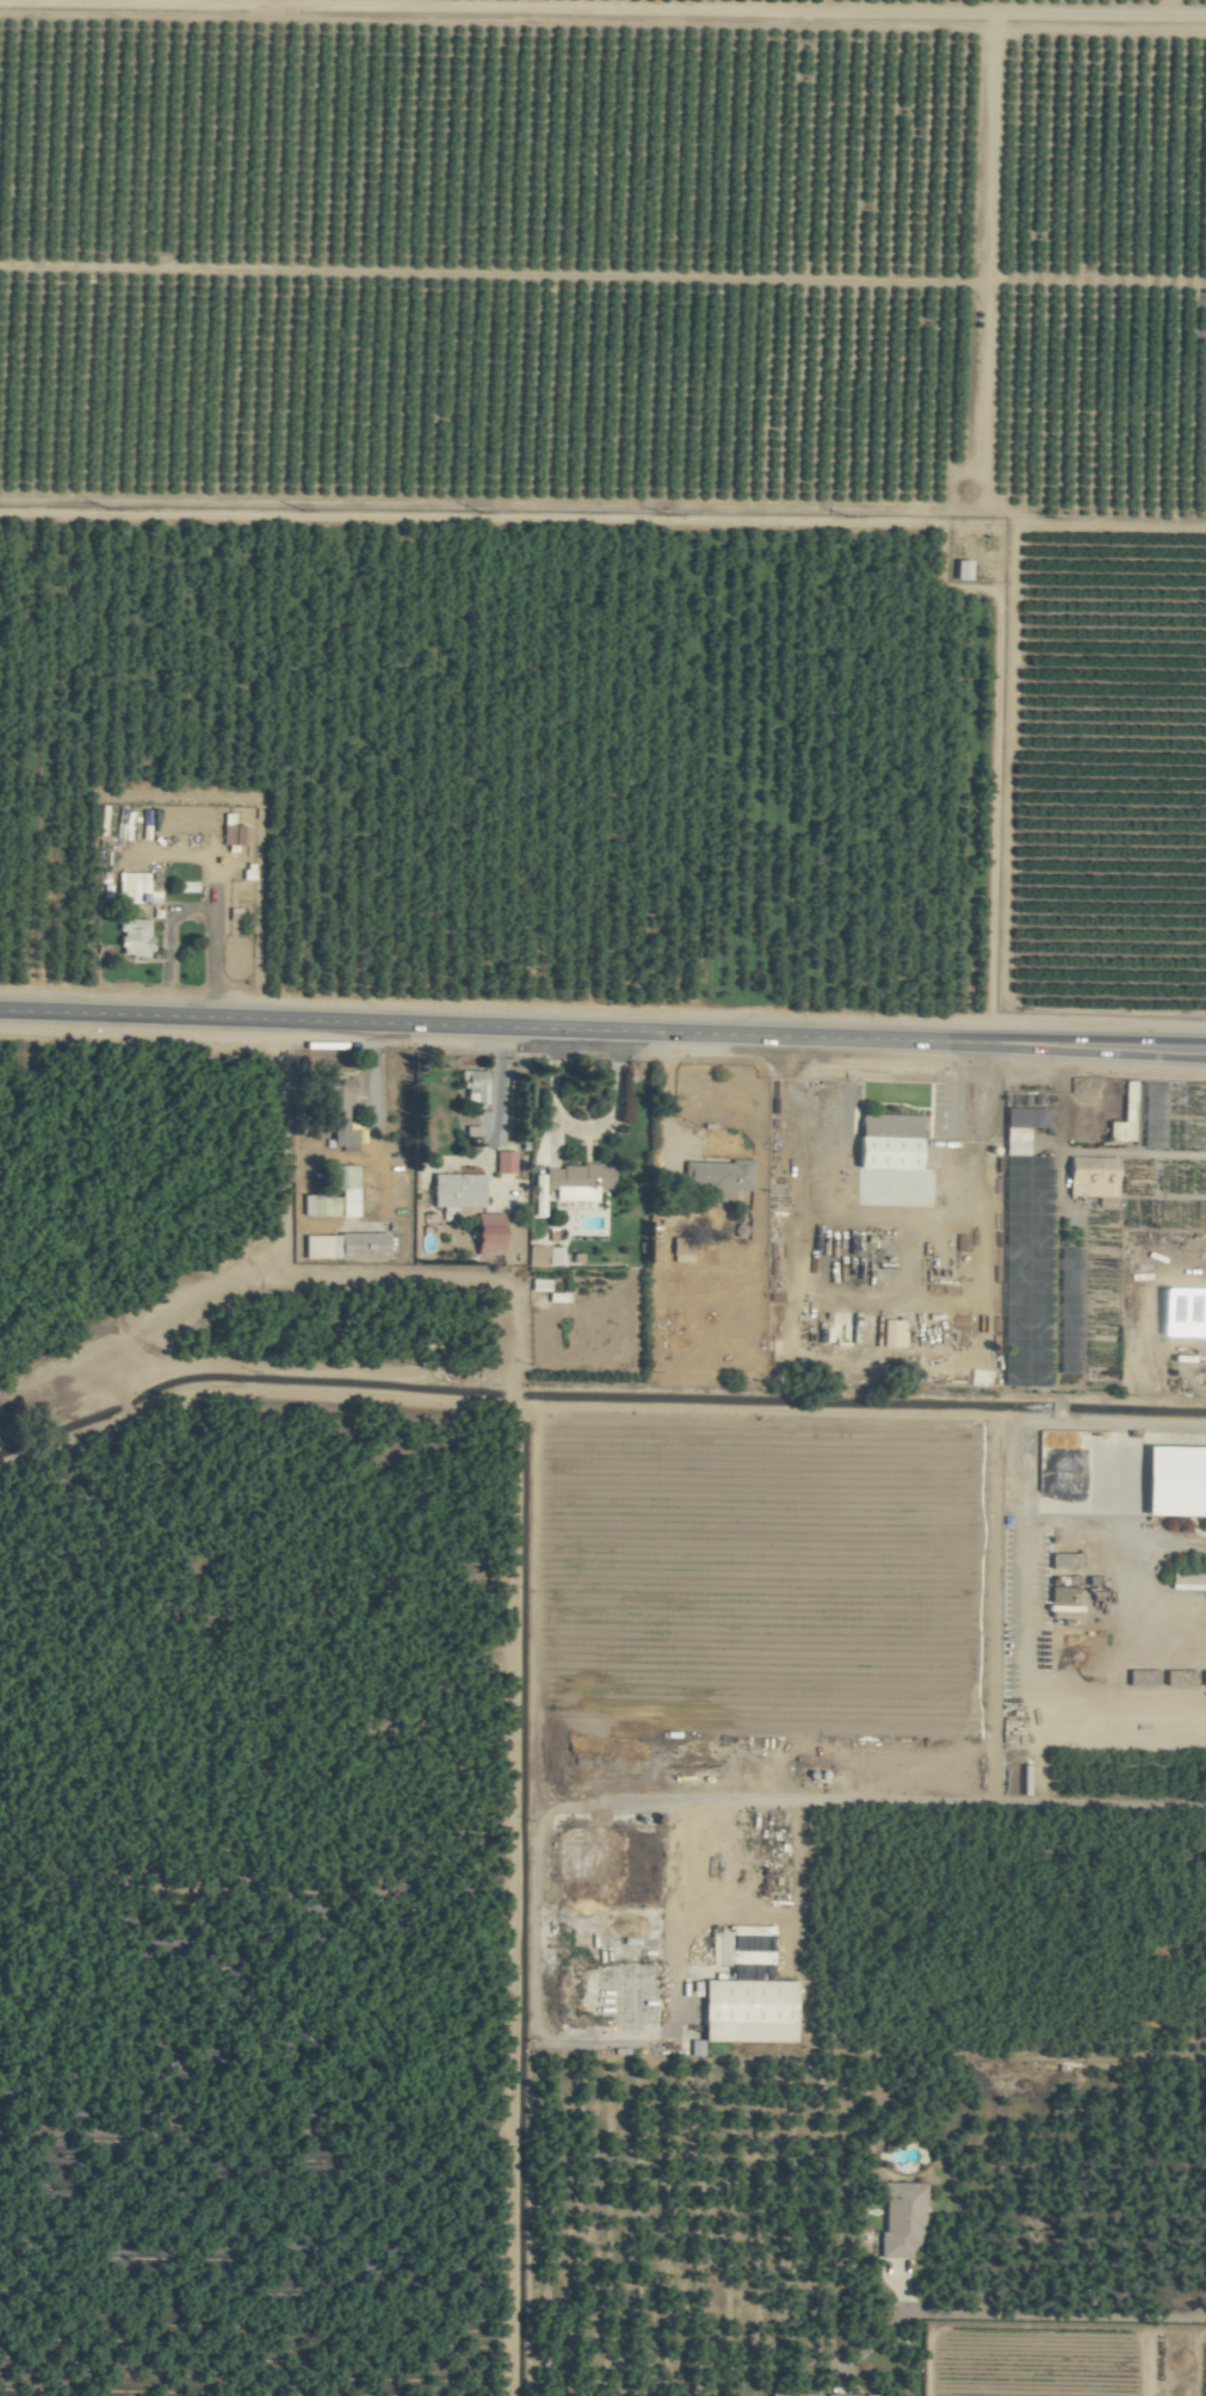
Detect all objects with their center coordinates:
building: (959, 570)
building: (132, 937)
road: (602, 1028)
building: (471, 1086)
road: (667, 1090)
building: (335, 1102)
building: (1014, 1141)
building: (885, 1143)
building: (503, 1163)
building: (1089, 1171)
building: (716, 1174)
building: (344, 1176)
building: (576, 1176)
building: (454, 1190)
building: (587, 1194)
crop: (602, 1197)
building: (330, 1206)
building: (486, 1234)
crop: (1107, 1243)
building: (365, 1244)
building: (681, 1250)
building: (534, 1256)
building: (552, 1256)
building: (537, 1284)
building: (885, 1335)
road: (1120, 1481)
building: (1174, 1482)
building: (1186, 1583)
road: (935, 1804)
building: (746, 2010)
road: (551, 2043)
building: (899, 2208)
road: (1009, 2314)
building: (788, 2395)
building: (839, 2395)
building: (866, 2395)

